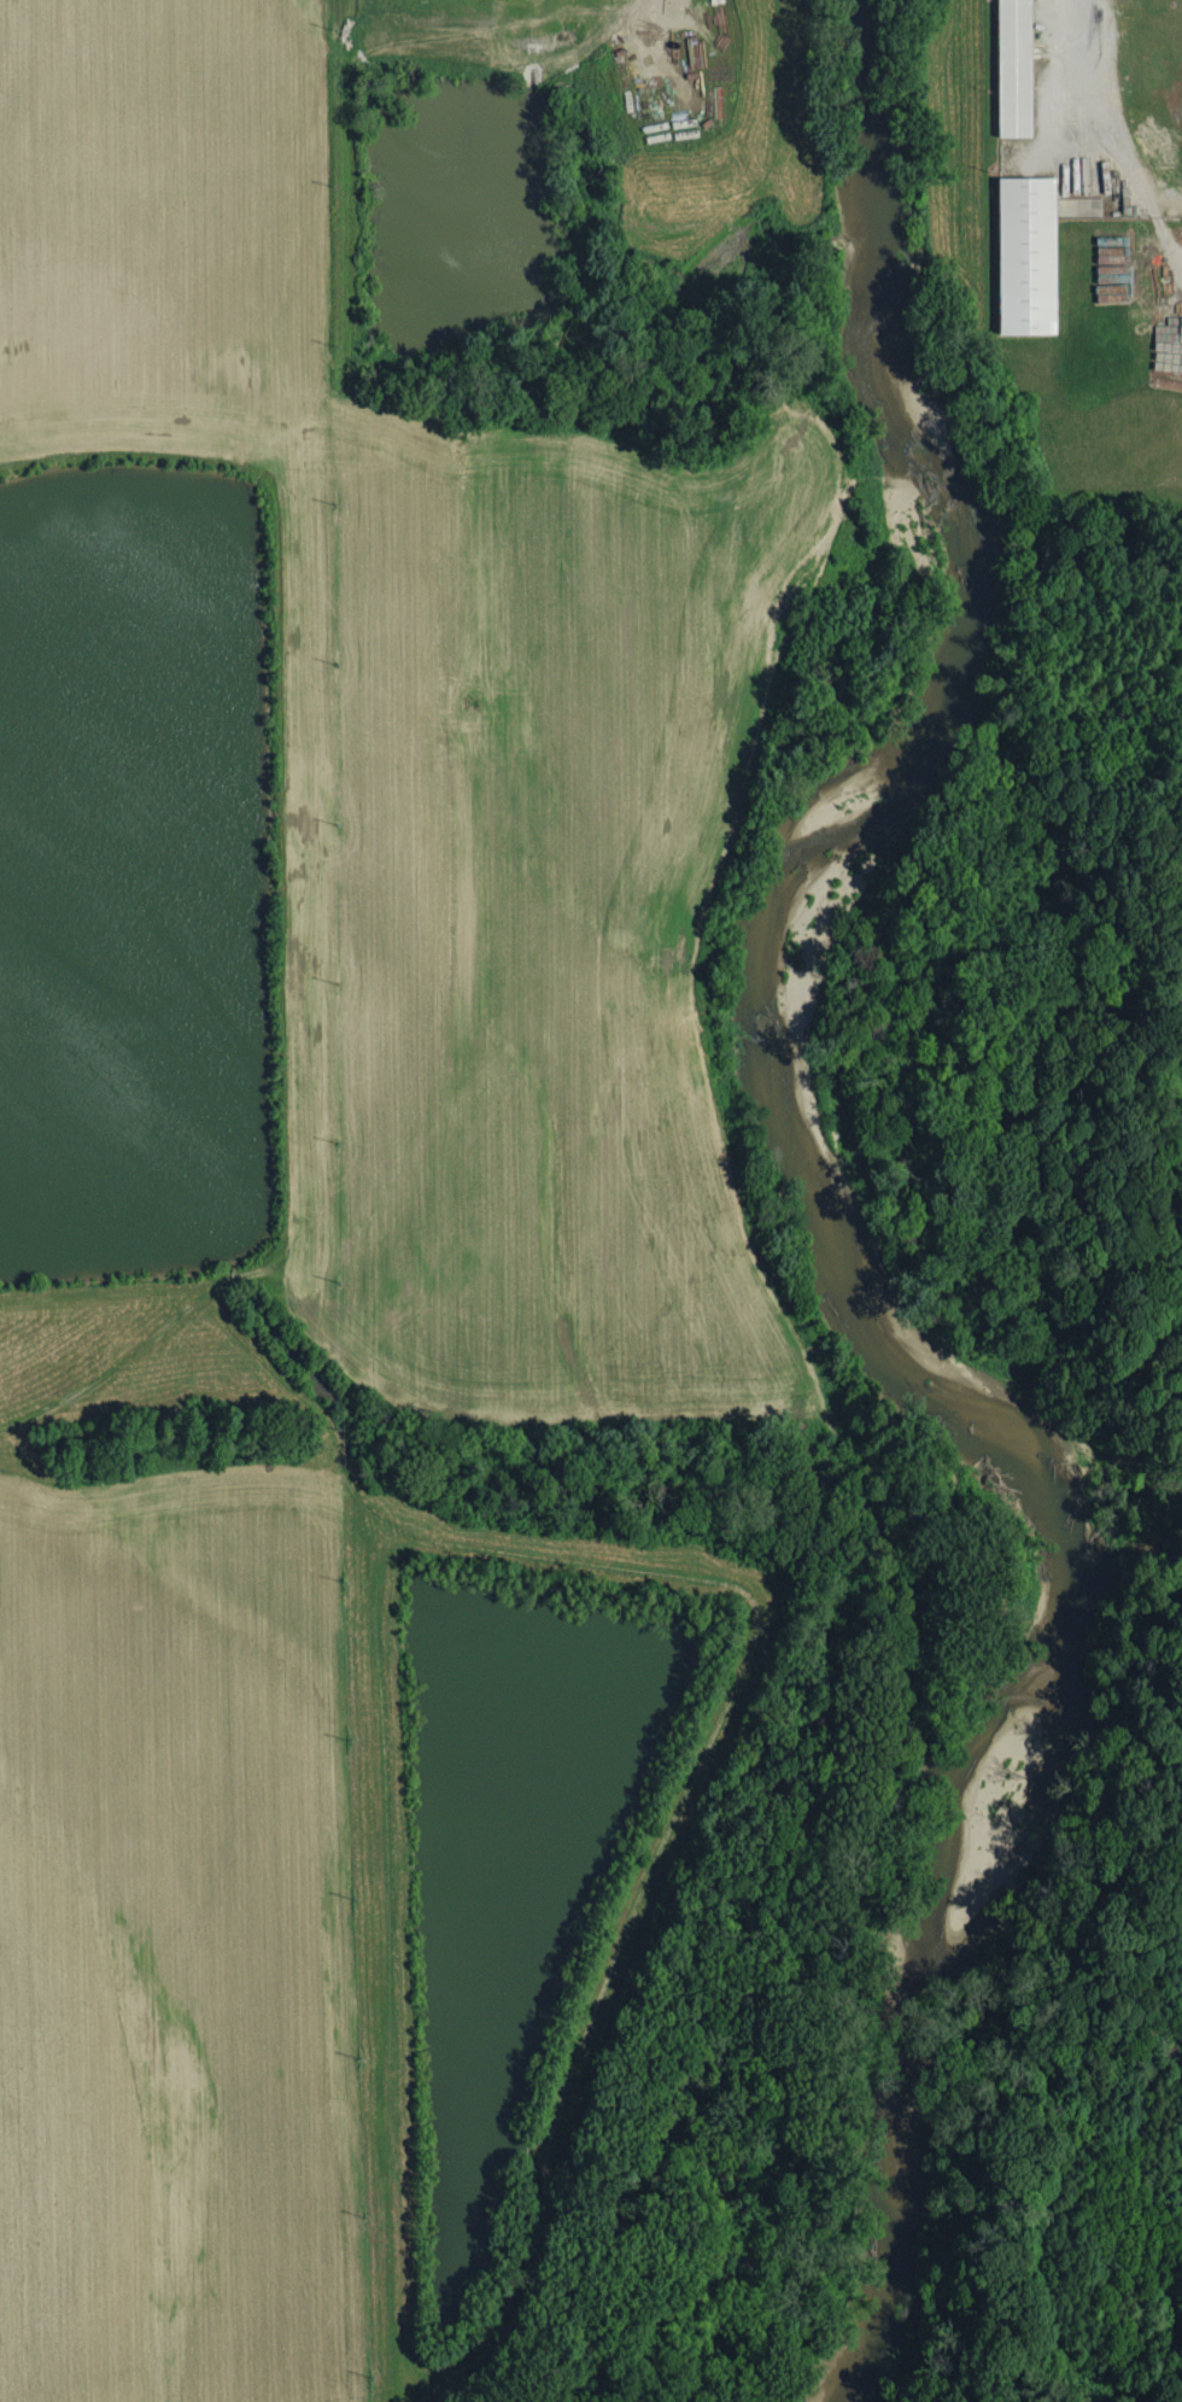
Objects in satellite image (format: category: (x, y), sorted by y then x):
road: (1077, 57)
building: (1013, 69)
building: (1026, 255)
river: (837, 1217)

